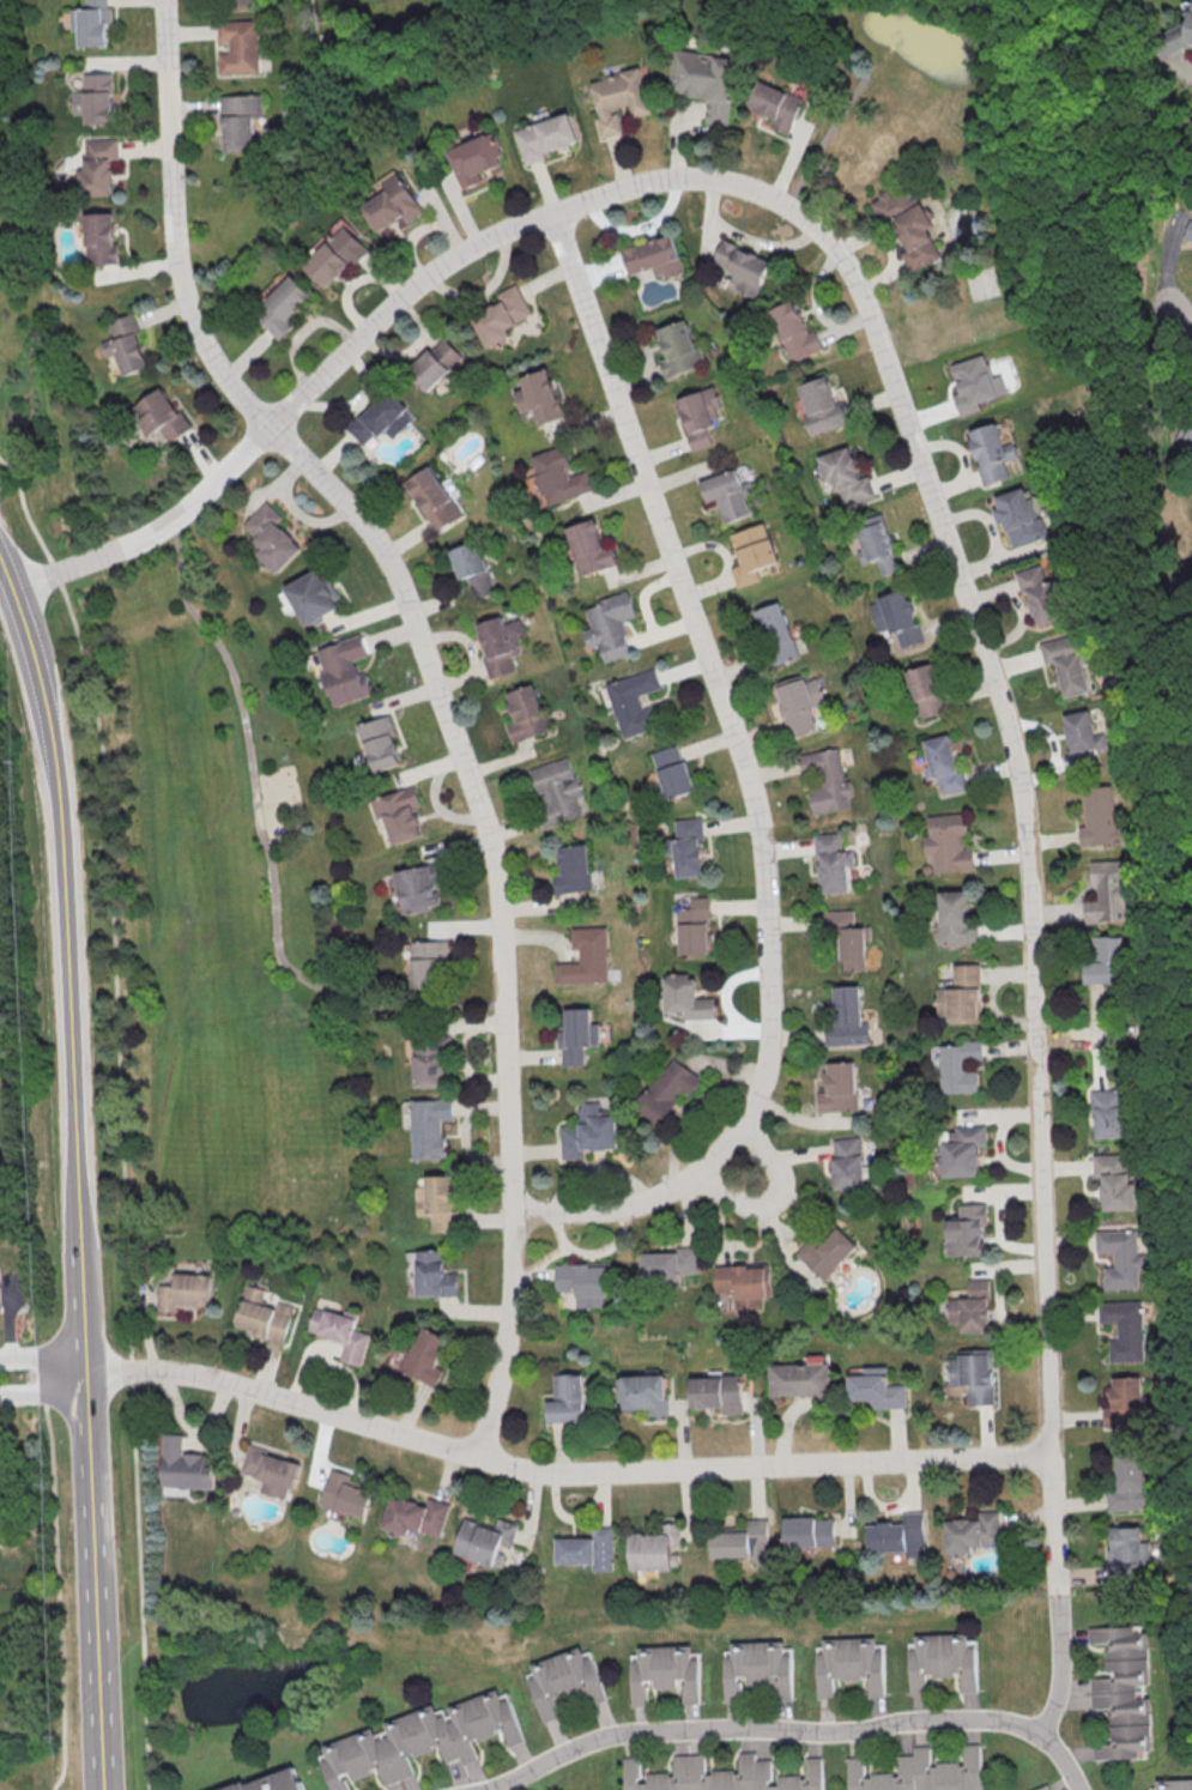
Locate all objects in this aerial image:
building: (238, 4)
building: (93, 25)
building: (1172, 35)
building: (240, 48)
road: (1071, 49)
building: (1191, 54)
road: (1175, 66)
building: (704, 80)
building: (619, 99)
park: (889, 103)
building: (99, 104)
building: (776, 104)
building: (240, 122)
building: (546, 137)
road: (827, 138)
building: (477, 158)
building: (98, 169)
building: (394, 204)
building: (908, 224)
building: (1187, 231)
building: (101, 244)
building: (338, 255)
road: (1168, 255)
building: (654, 256)
road: (1106, 261)
building: (742, 266)
building: (284, 307)
road: (1144, 309)
building: (500, 315)
road: (1181, 315)
building: (793, 331)
building: (126, 344)
building: (679, 349)
building: (434, 363)
building: (974, 383)
building: (538, 395)
building: (822, 410)
building: (162, 415)
building: (701, 415)
building: (380, 418)
road: (910, 433)
building: (1185, 435)
building: (990, 456)
building: (558, 476)
building: (846, 478)
building: (727, 497)
building: (431, 498)
building: (1022, 521)
building: (273, 537)
building: (877, 544)
building: (589, 548)
building: (752, 555)
building: (472, 568)
building: (315, 597)
building: (1042, 599)
building: (896, 617)
building: (611, 628)
building: (776, 639)
building: (498, 645)
road: (1174, 651)
building: (1070, 667)
building: (346, 670)
building: (926, 690)
road: (440, 693)
building: (798, 702)
building: (635, 704)
building: (525, 713)
building: (1083, 737)
building: (381, 743)
building: (944, 767)
building: (673, 772)
building: (825, 781)
road: (749, 786)
building: (553, 791)
building: (400, 814)
building: (1101, 822)
building: (948, 843)
building: (689, 846)
building: (831, 861)
building: (573, 870)
building: (419, 887)
building: (1107, 895)
road: (1191, 913)
building: (955, 918)
building: (695, 926)
building: (847, 937)
building: (586, 957)
park: (1179, 961)
building: (429, 963)
building: (1105, 964)
road: (74, 970)
building: (962, 994)
building: (688, 997)
building: (845, 1017)
building: (577, 1035)
road: (1174, 1035)
road: (1097, 1038)
building: (430, 1060)
road: (1191, 1062)
building: (958, 1066)
building: (837, 1087)
building: (667, 1089)
road: (127, 1112)
building: (1107, 1112)
building: (430, 1126)
building: (588, 1131)
building: (963, 1149)
building: (846, 1162)
building: (1114, 1179)
road: (776, 1195)
building: (438, 1202)
road: (999, 1215)
building: (968, 1230)
building: (828, 1252)
building: (1120, 1258)
building: (668, 1265)
building: (432, 1274)
building: (585, 1282)
building: (745, 1283)
building: (187, 1292)
building: (0, 1304)
building: (974, 1307)
building: (266, 1316)
building: (1124, 1329)
building: (341, 1336)
road: (42, 1354)
building: (426, 1355)
building: (975, 1374)
building: (800, 1380)
building: (877, 1389)
road: (42, 1391)
building: (645, 1392)
building: (720, 1392)
building: (567, 1398)
building: (1124, 1403)
building: (187, 1465)
building: (273, 1471)
road: (561, 1471)
building: (1129, 1482)
building: (346, 1494)
road: (91, 1511)
building: (416, 1516)
building: (809, 1531)
building: (972, 1531)
building: (898, 1536)
building: (483, 1540)
building: (743, 1542)
building: (654, 1548)
building: (587, 1549)
building: (1126, 1552)
road: (56, 1572)
building: (940, 1661)
building: (849, 1664)
road: (1058, 1667)
building: (757, 1669)
building: (665, 1673)
building: (564, 1680)
building: (1123, 1691)
road: (99, 1712)
road: (792, 1730)
building: (420, 1740)
building: (919, 1772)
building: (721, 1776)
building: (273, 1782)
building: (1175, 1784)
building: (1043, 1788)

